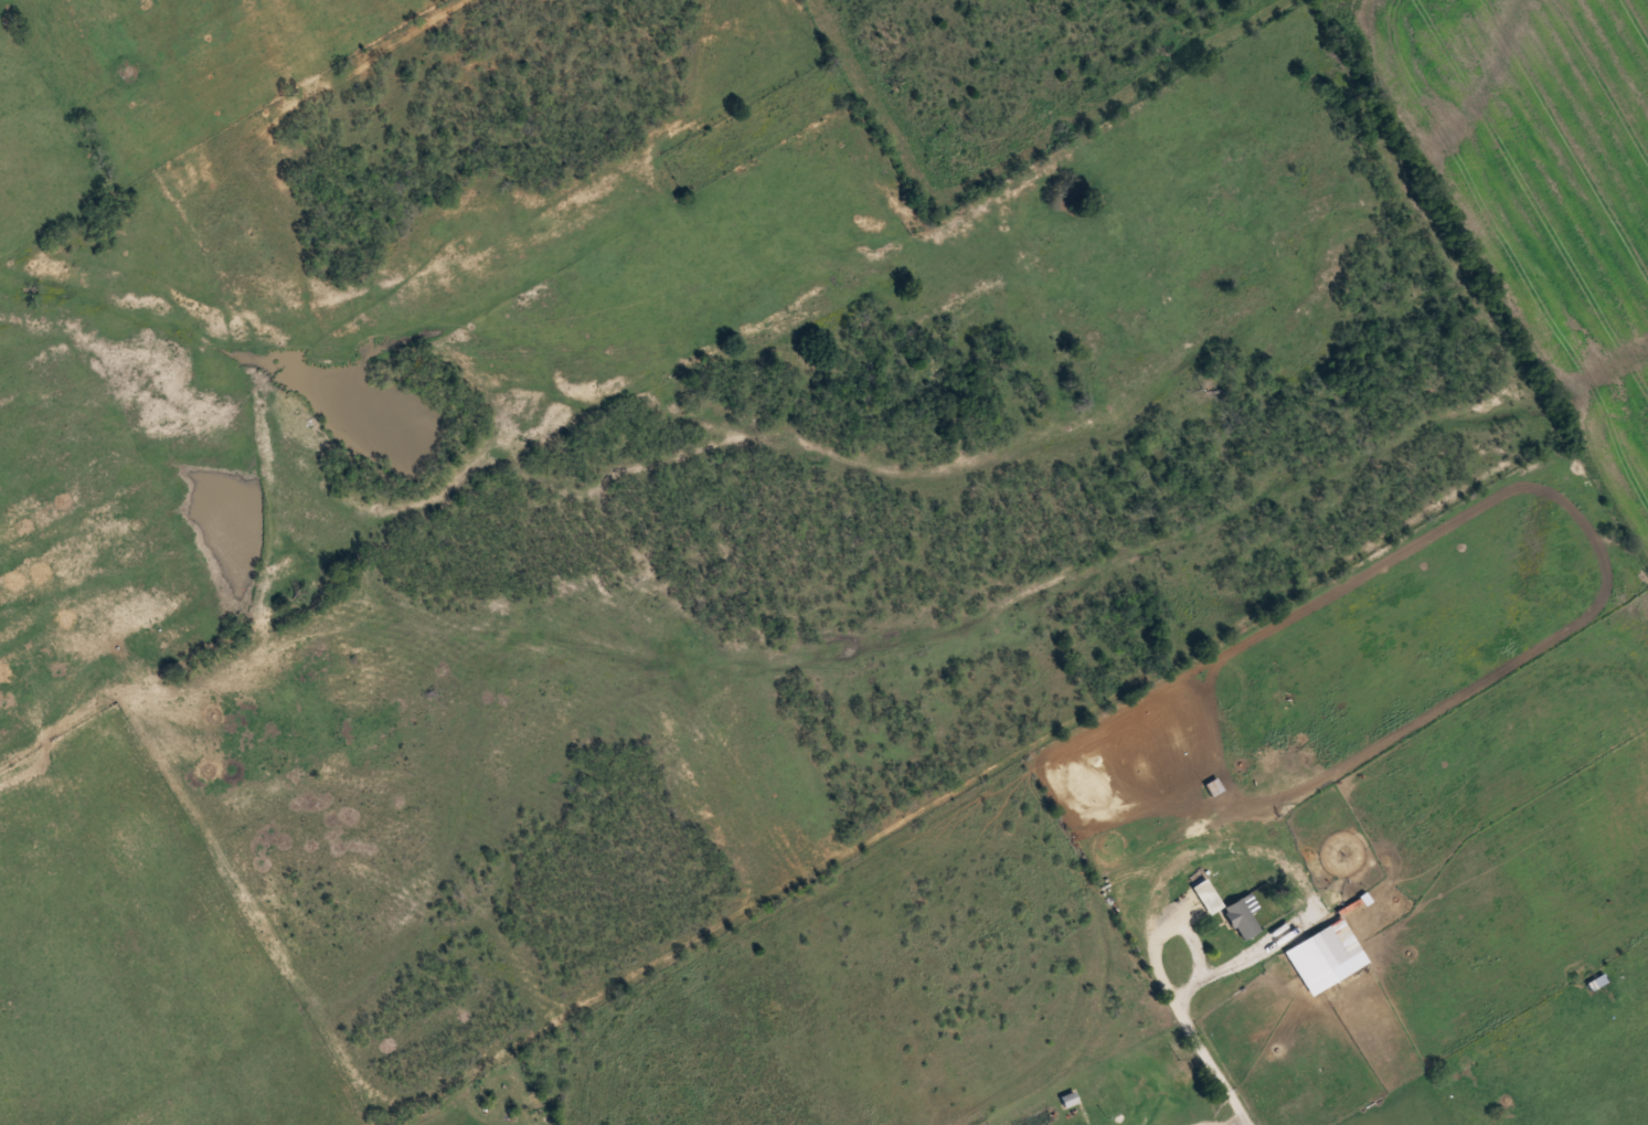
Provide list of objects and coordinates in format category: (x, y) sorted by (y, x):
building: (1242, 919)
building: (1597, 980)
building: (1068, 1099)
road: (1233, 1117)

